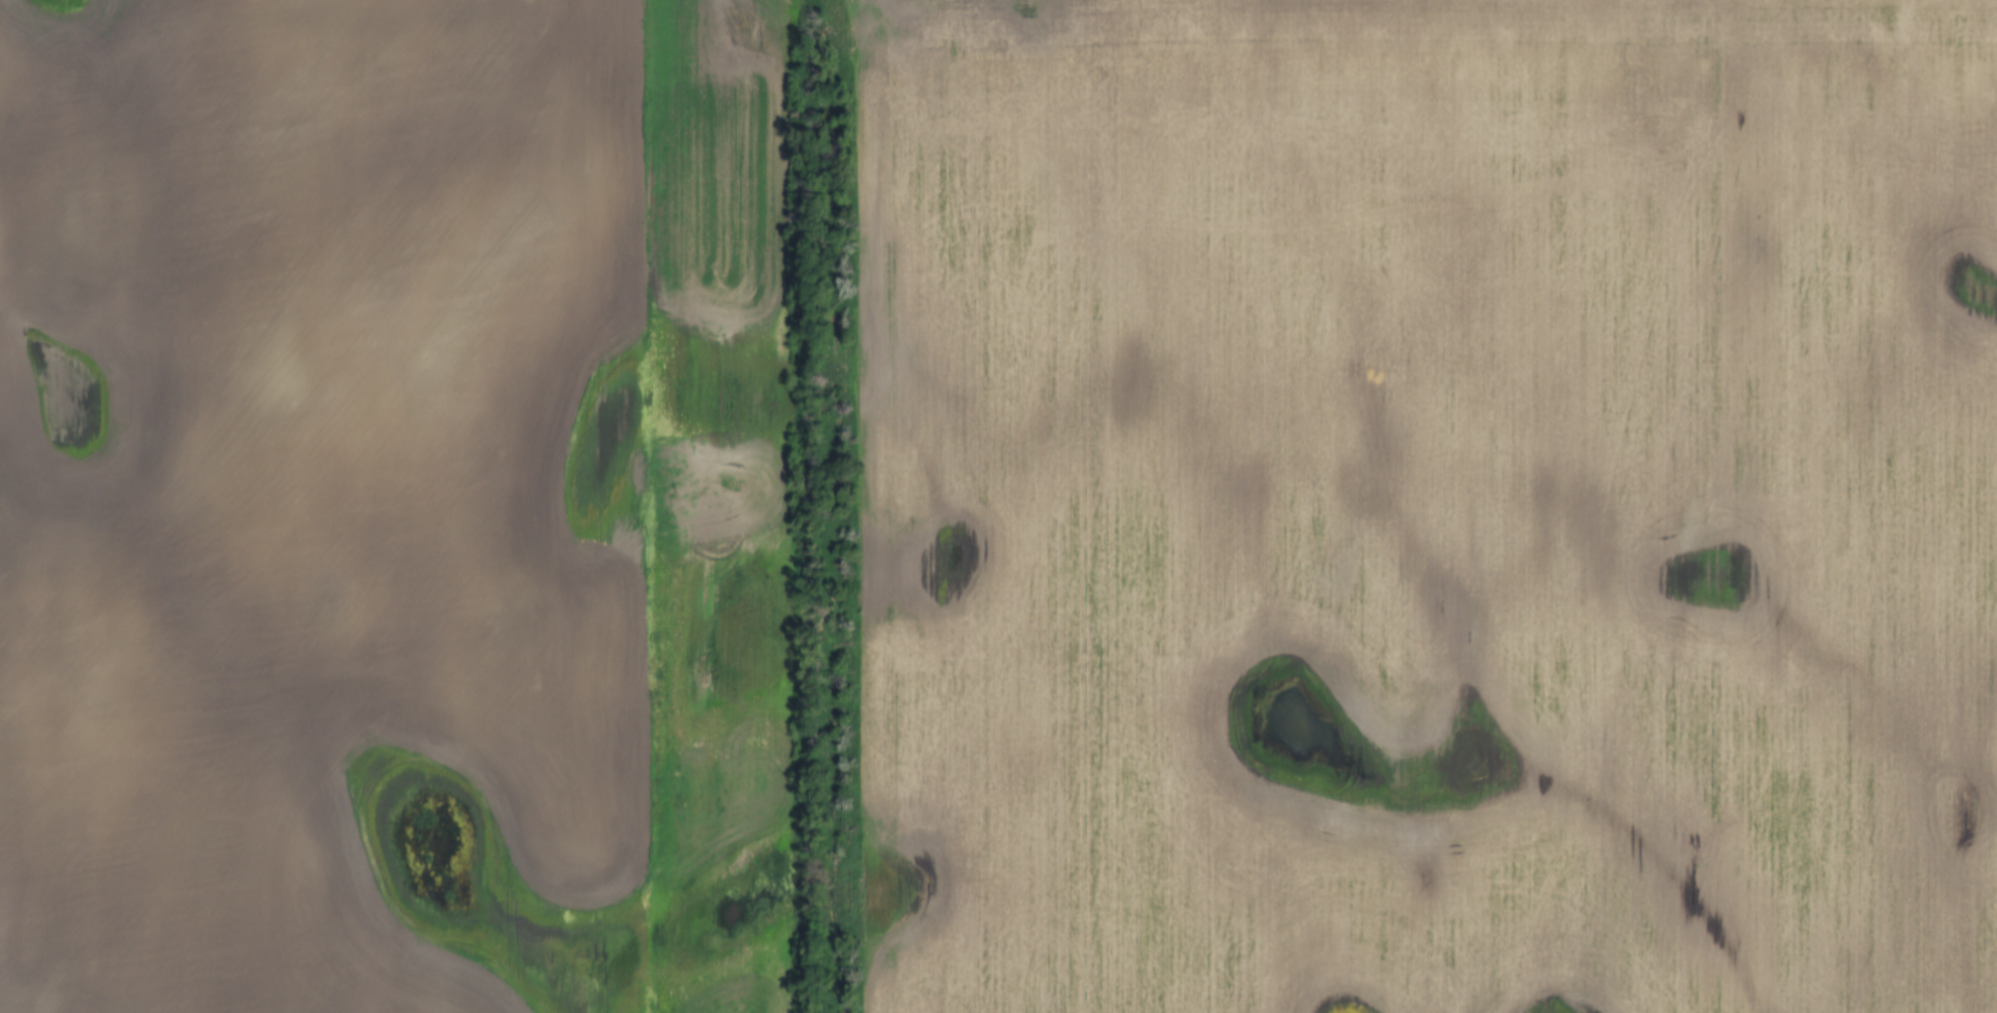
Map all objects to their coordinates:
road: (651, 506)

